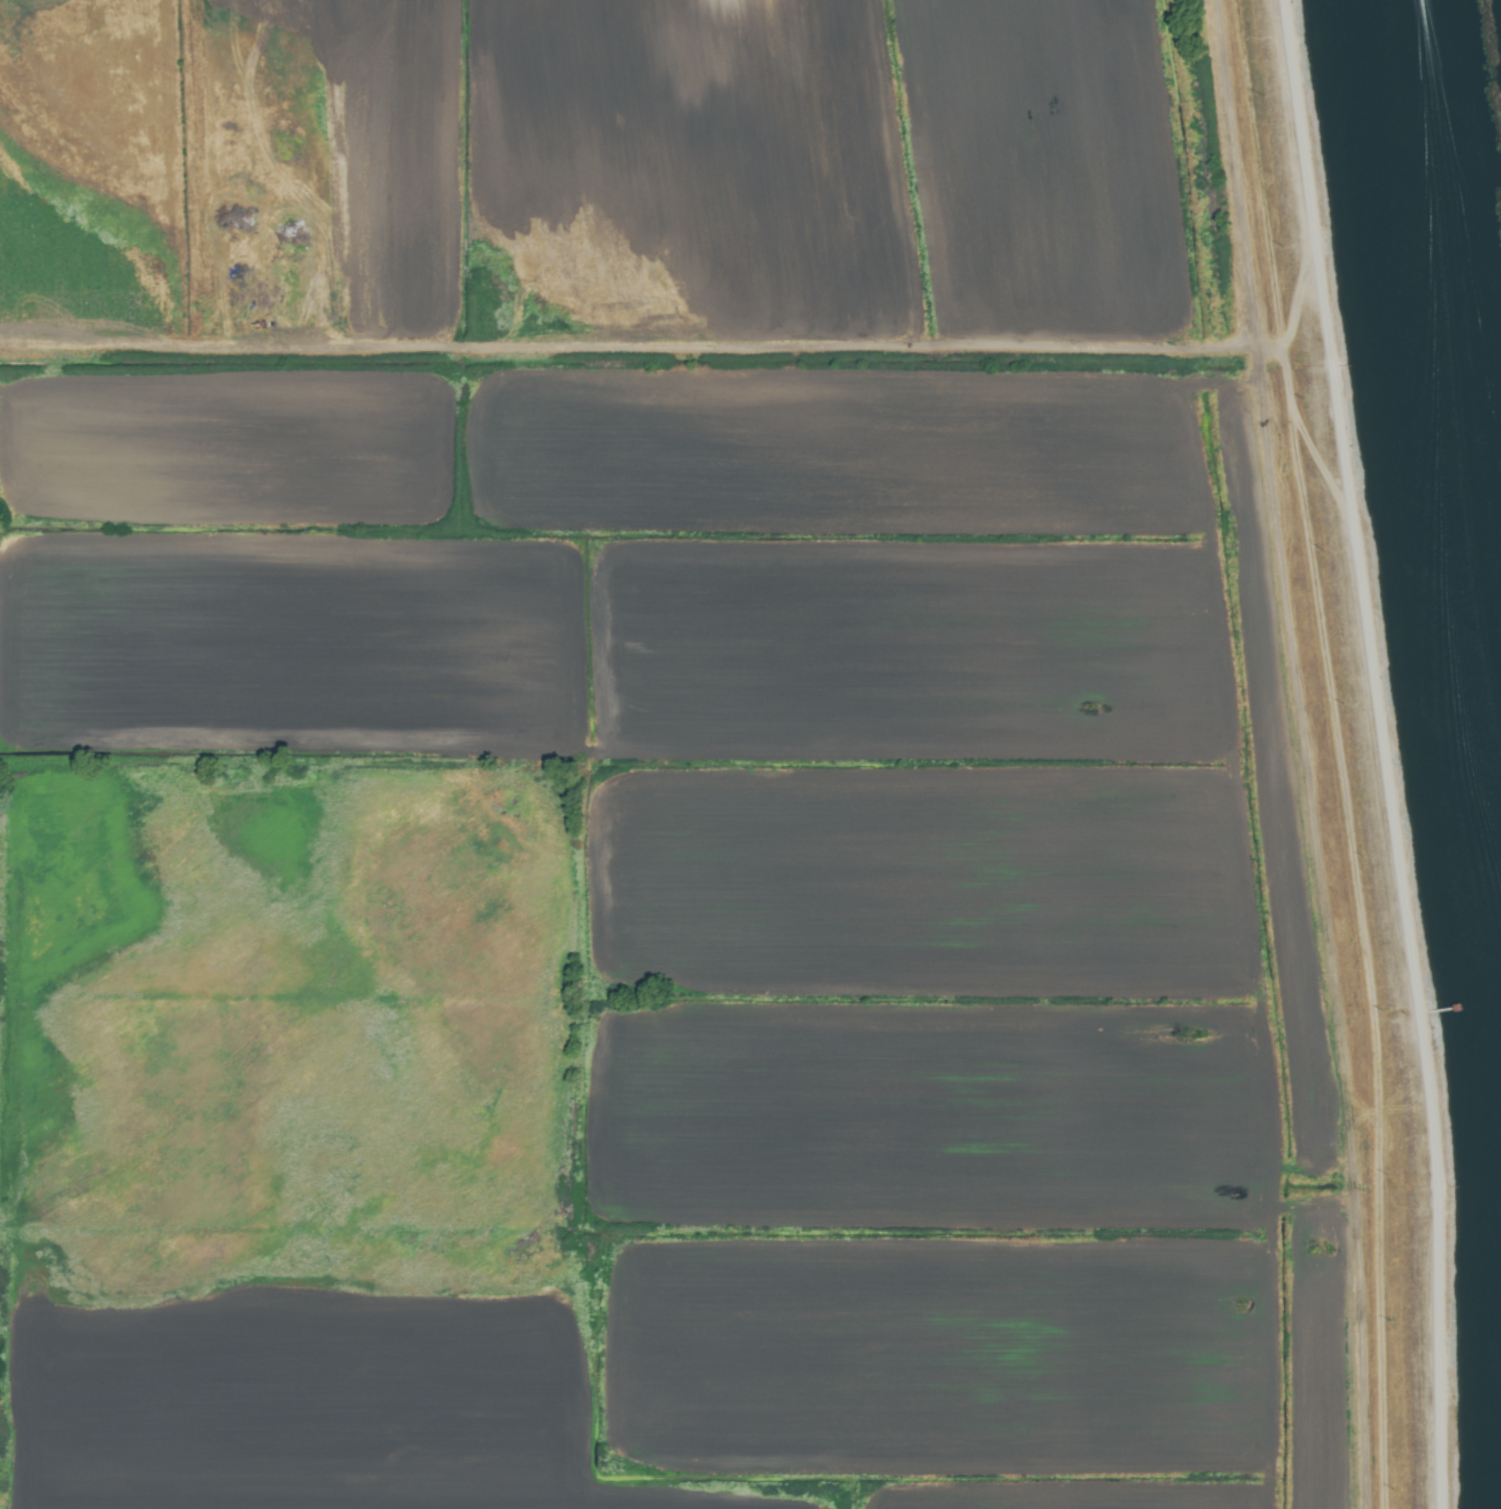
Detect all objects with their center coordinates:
road: (1398, 750)
crop: (662, 761)

